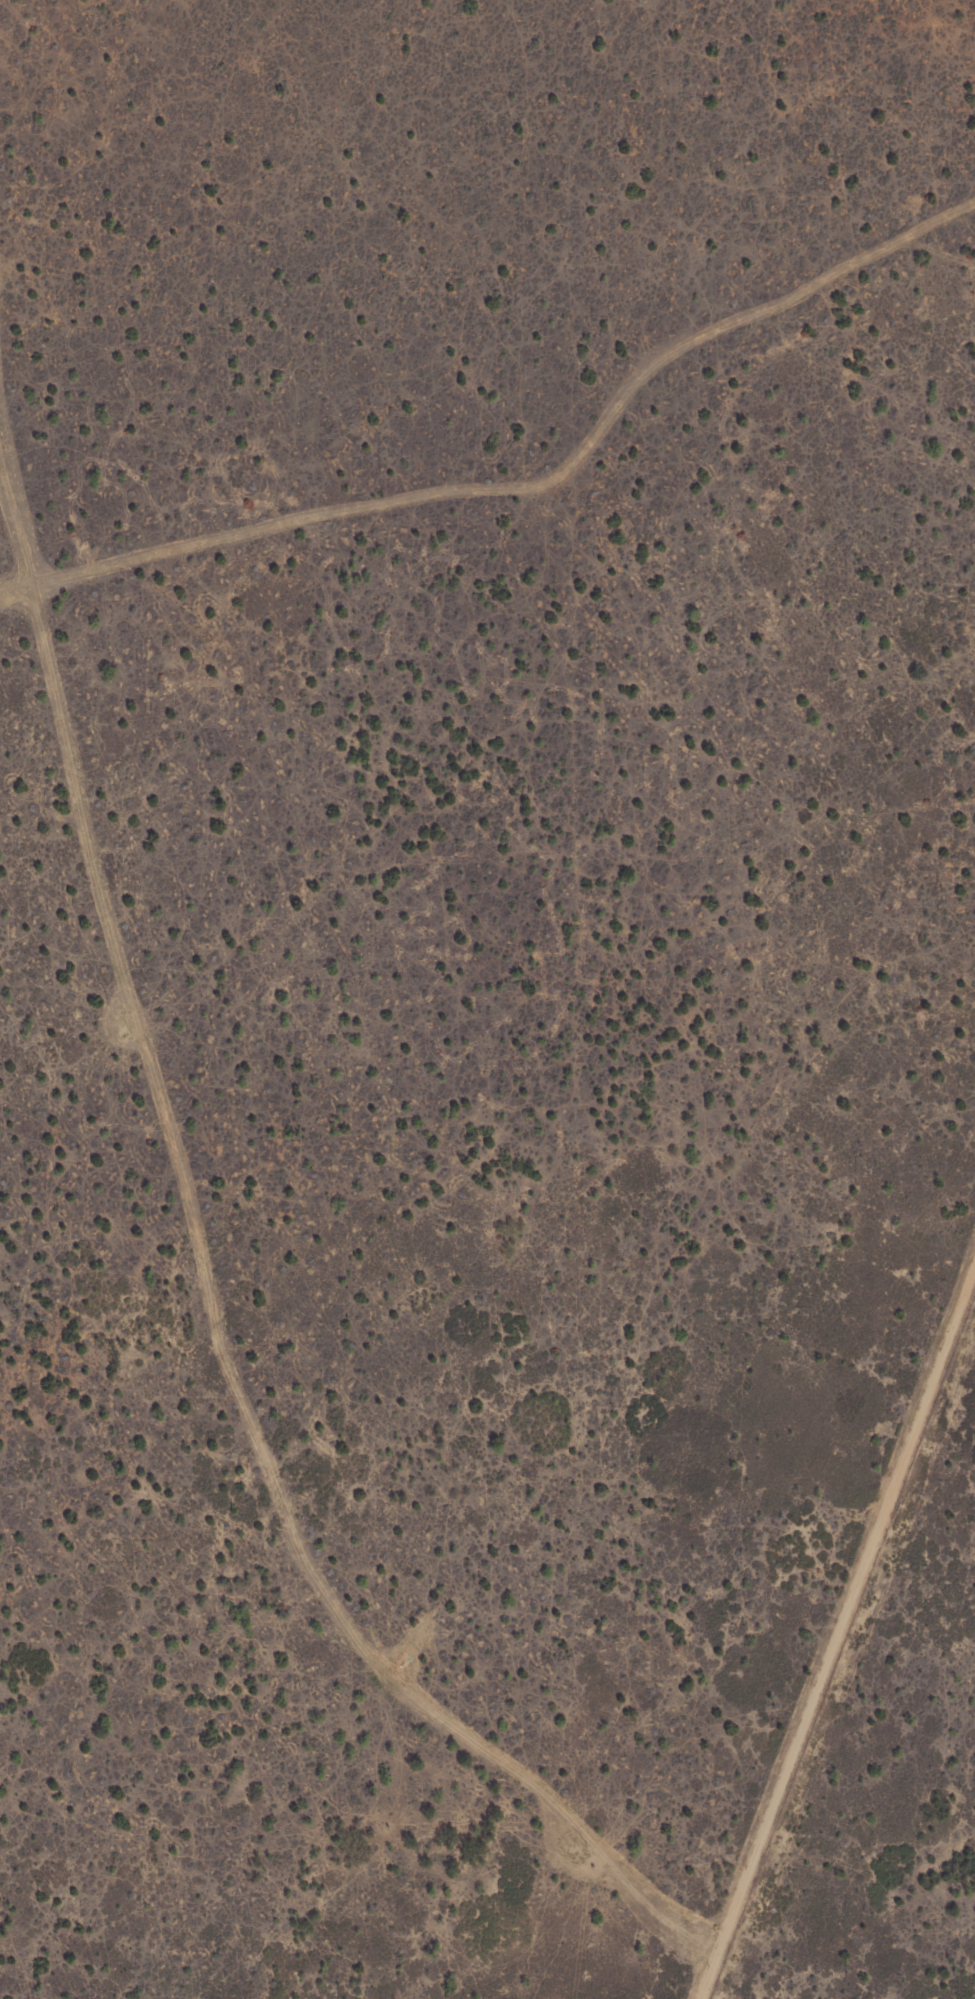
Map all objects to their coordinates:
road: (789, 1542)

